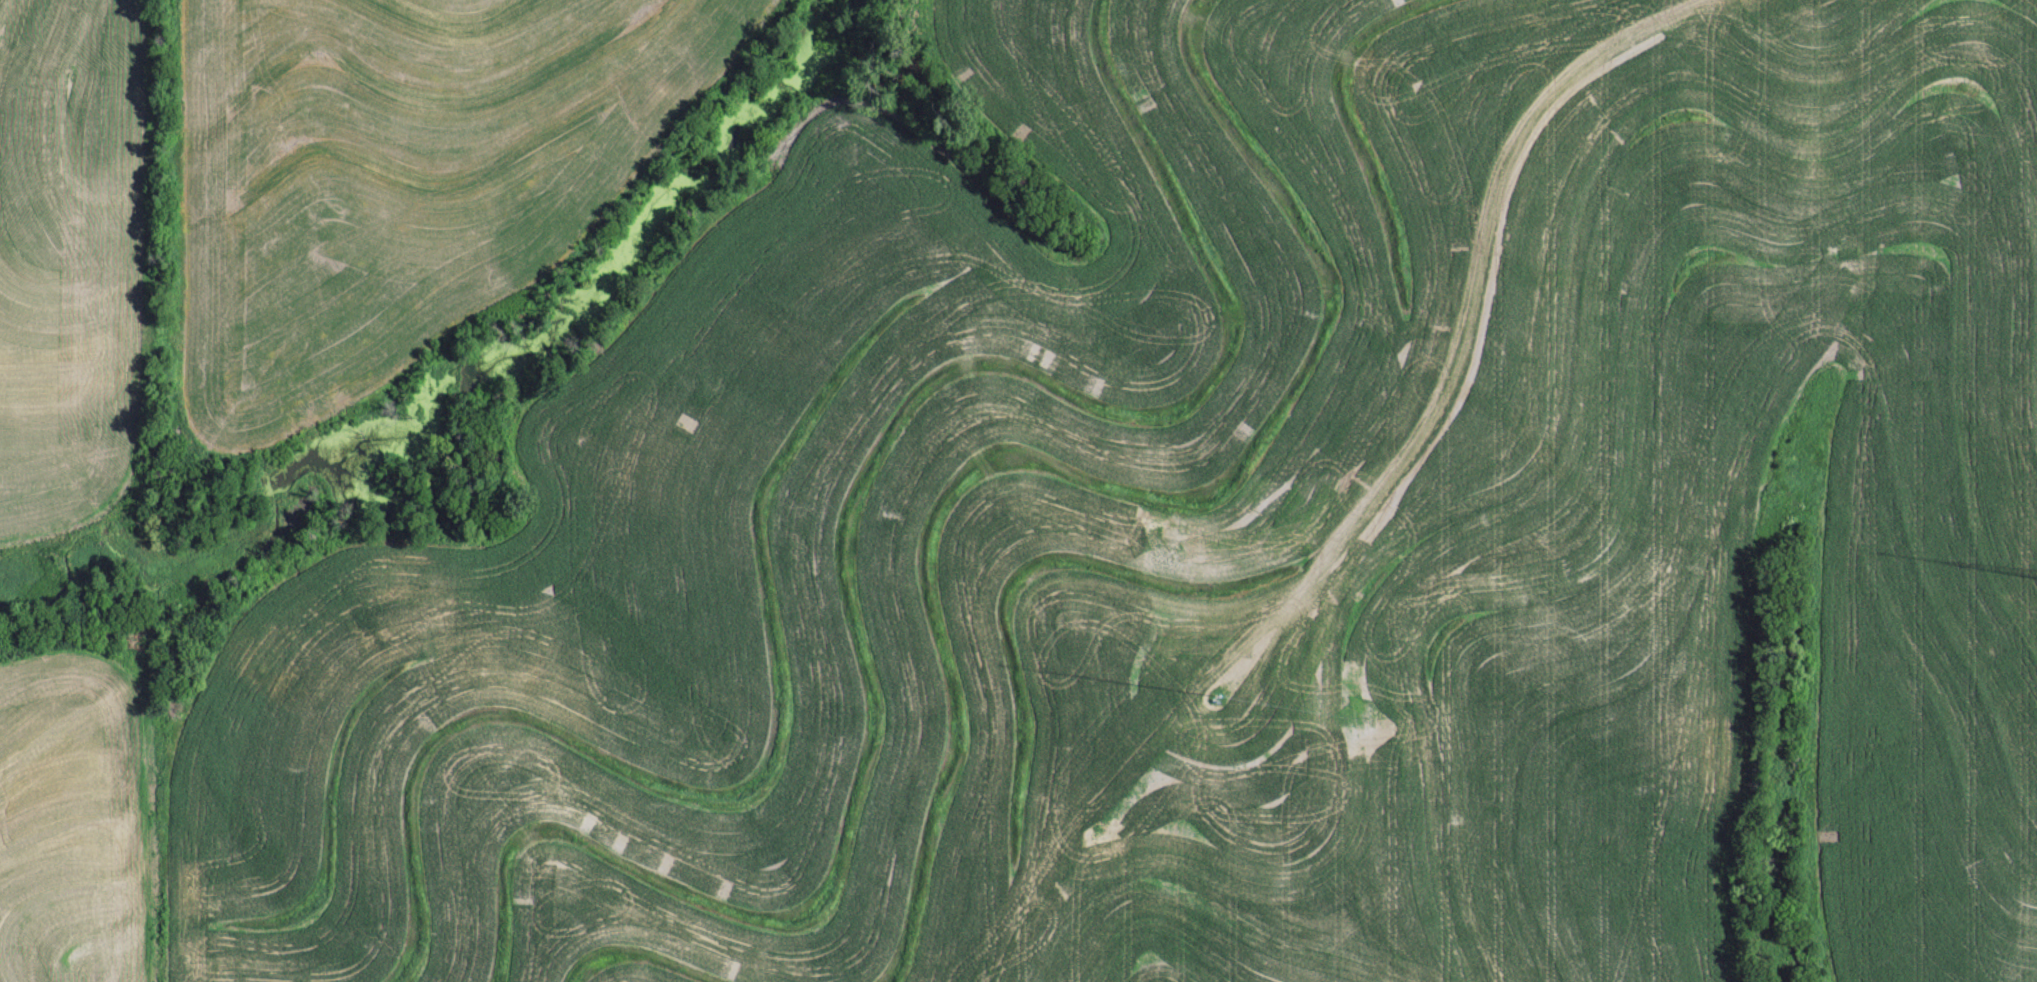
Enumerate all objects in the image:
wind turbine: (1208, 692)

